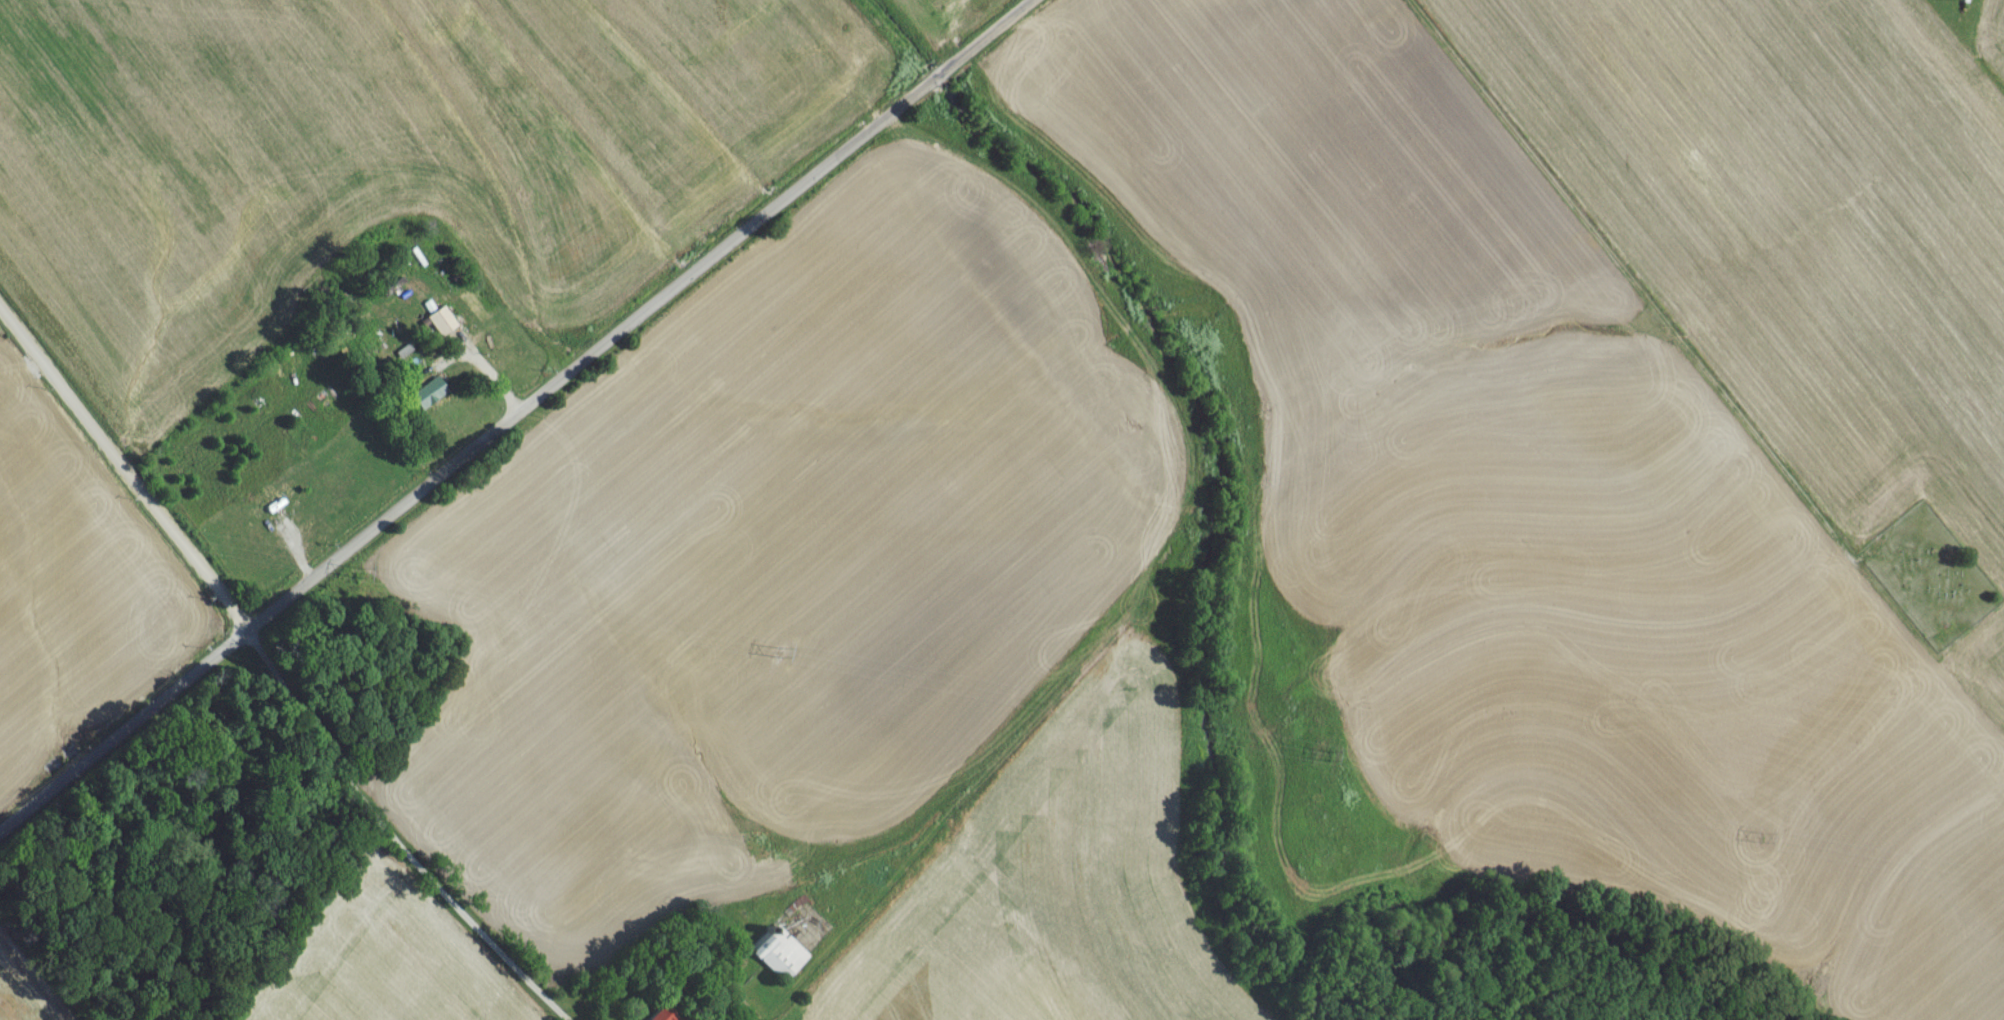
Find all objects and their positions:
building: (1965, 1)
building: (434, 404)
road: (518, 419)
road: (126, 475)
road: (393, 841)
building: (775, 958)
building: (662, 1015)

